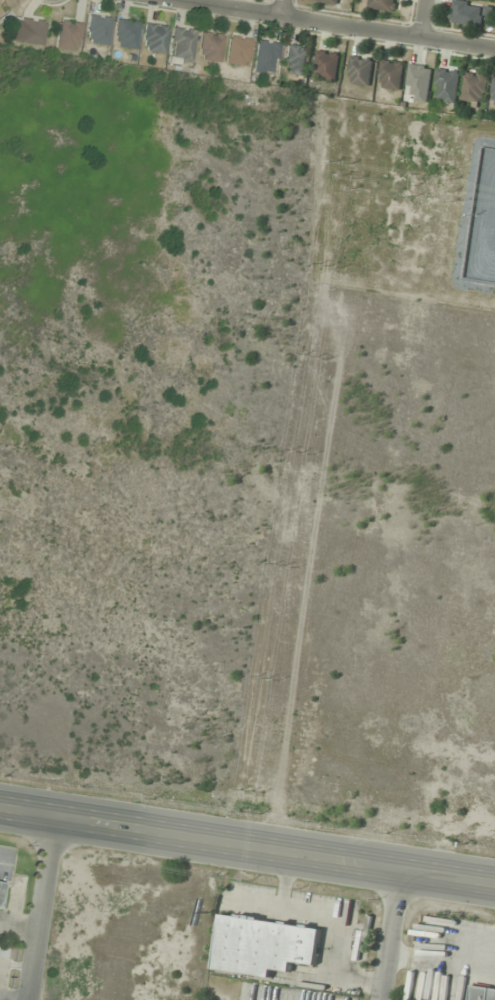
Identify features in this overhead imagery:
building: (325, 0)
building: (384, 4)
road: (281, 9)
building: (468, 13)
road: (421, 19)
road: (328, 25)
building: (97, 29)
building: (31, 31)
building: (125, 34)
building: (67, 35)
building: (154, 37)
building: (181, 45)
building: (209, 46)
building: (237, 51)
building: (265, 57)
building: (295, 60)
building: (327, 64)
building: (361, 70)
building: (392, 74)
building: (420, 80)
building: (448, 85)
building: (476, 88)
building: (493, 94)
road: (247, 848)
road: (41, 906)
road: (394, 938)
building: (264, 945)
building: (483, 993)

